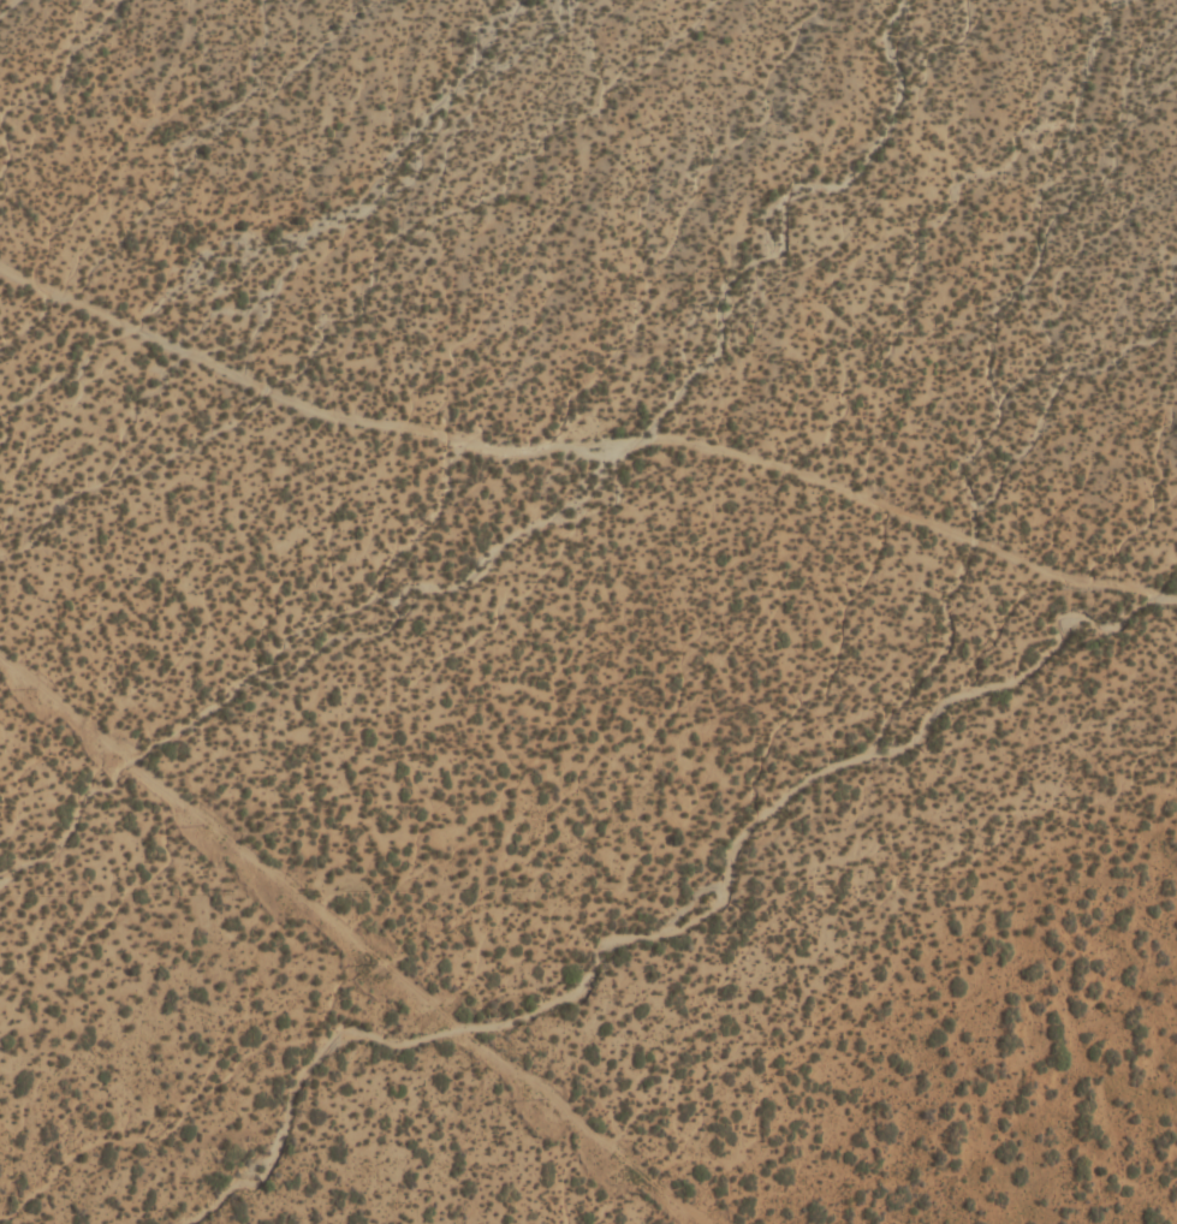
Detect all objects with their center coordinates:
building: (41, 754)

